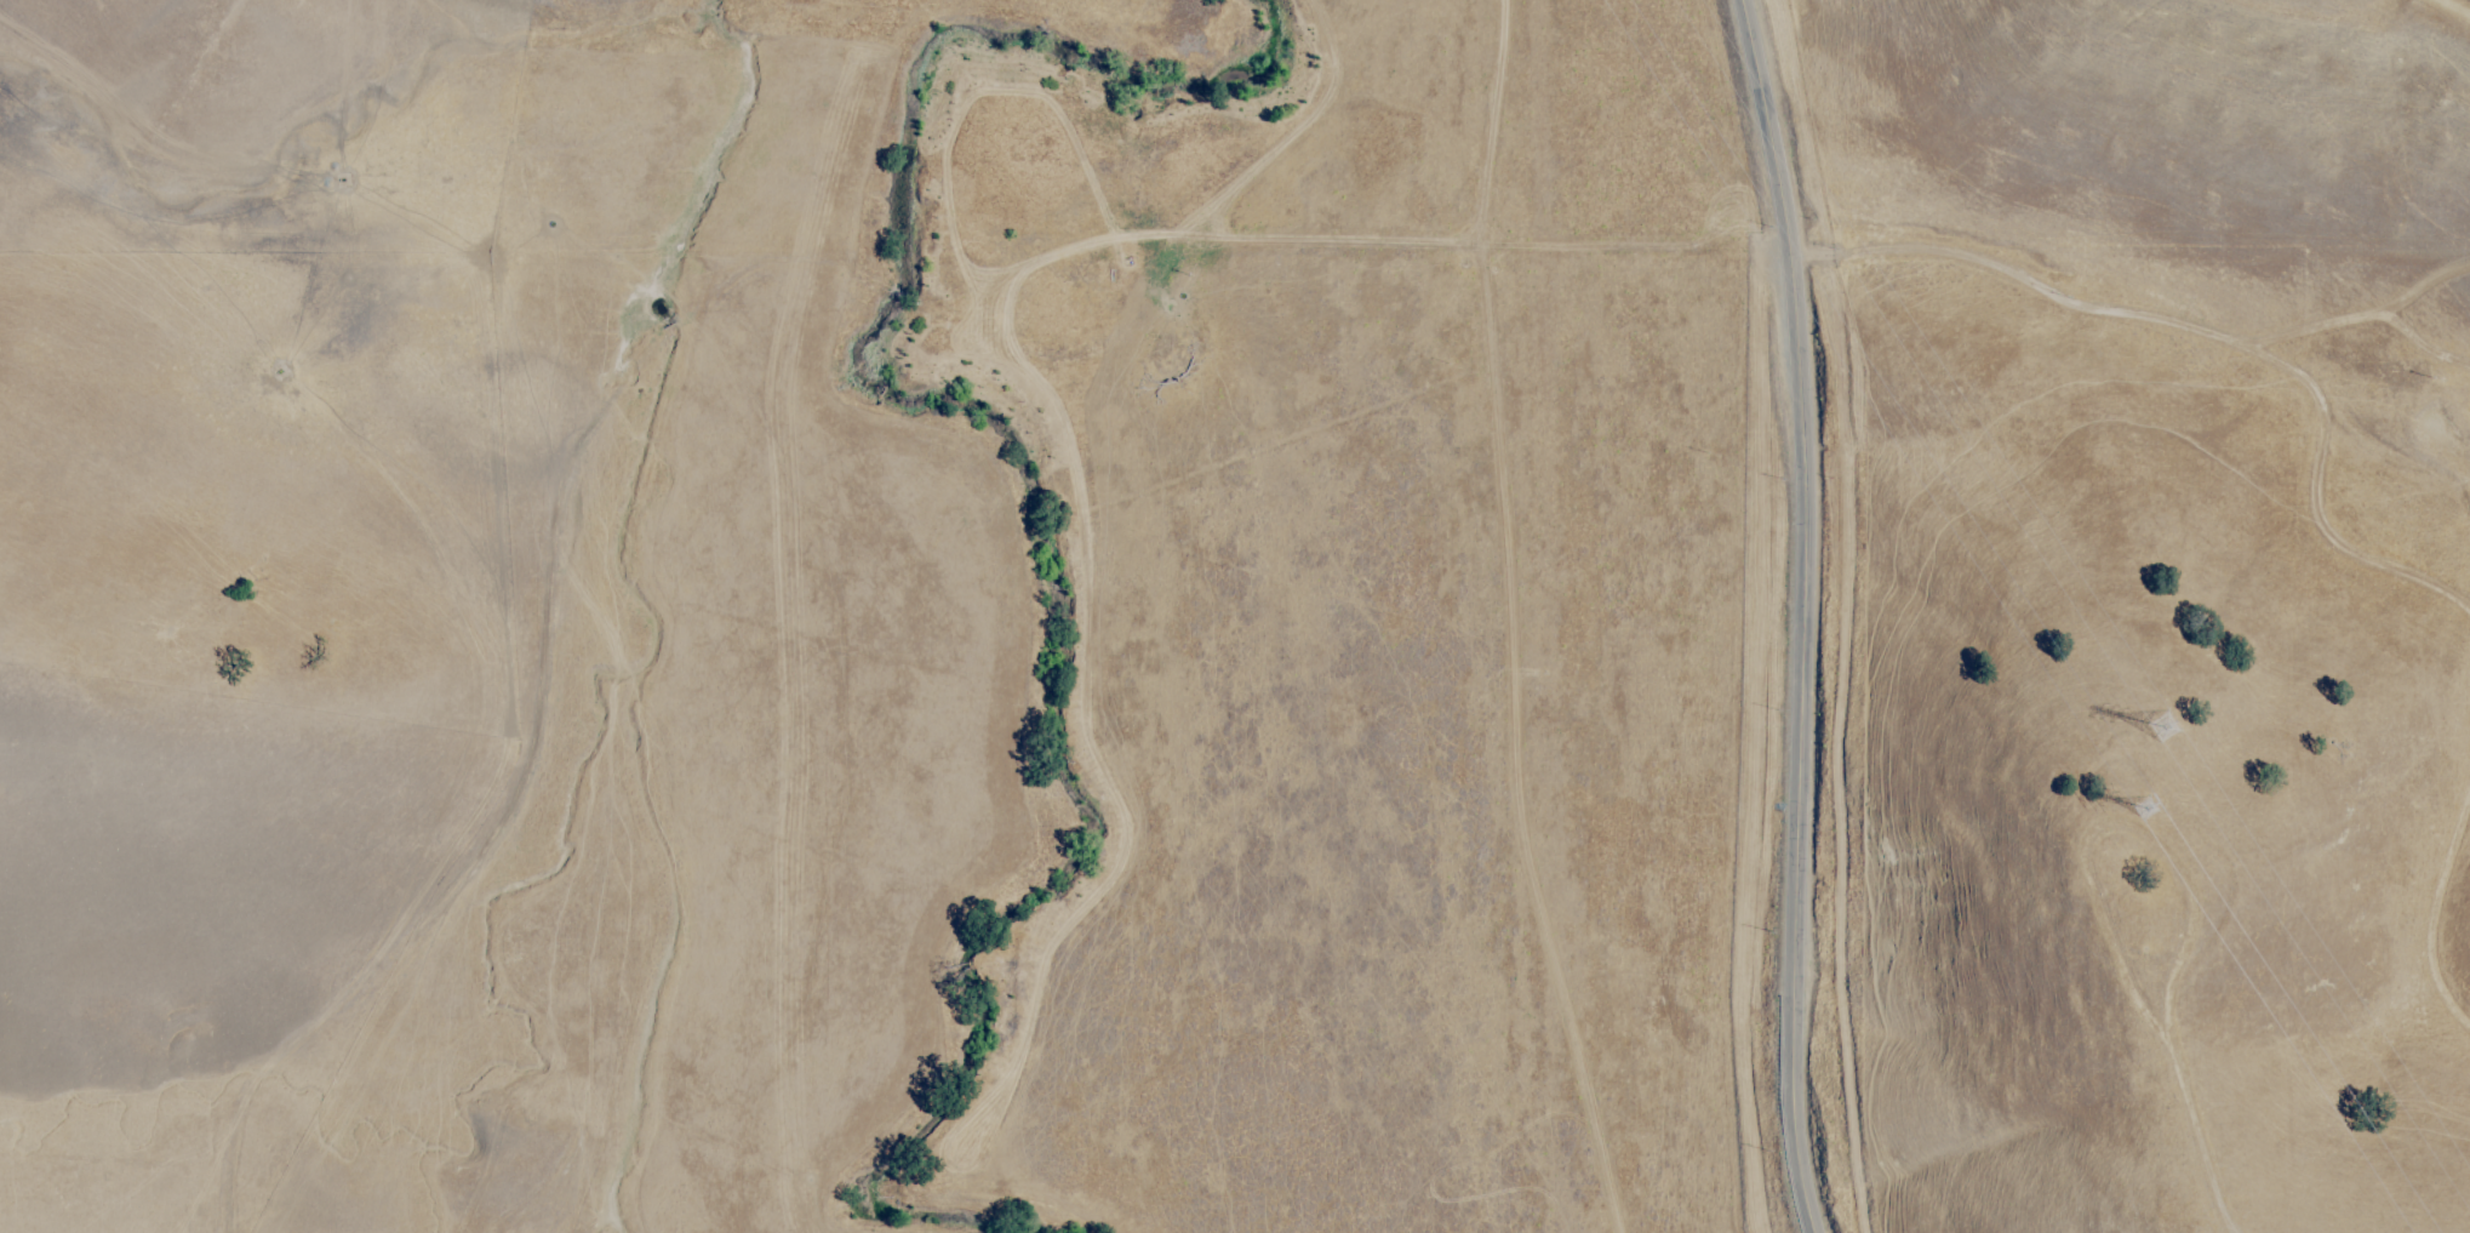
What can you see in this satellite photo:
road: (1801, 615)
road: (1511, 622)
power tower: (2162, 724)
power tower: (2155, 812)

